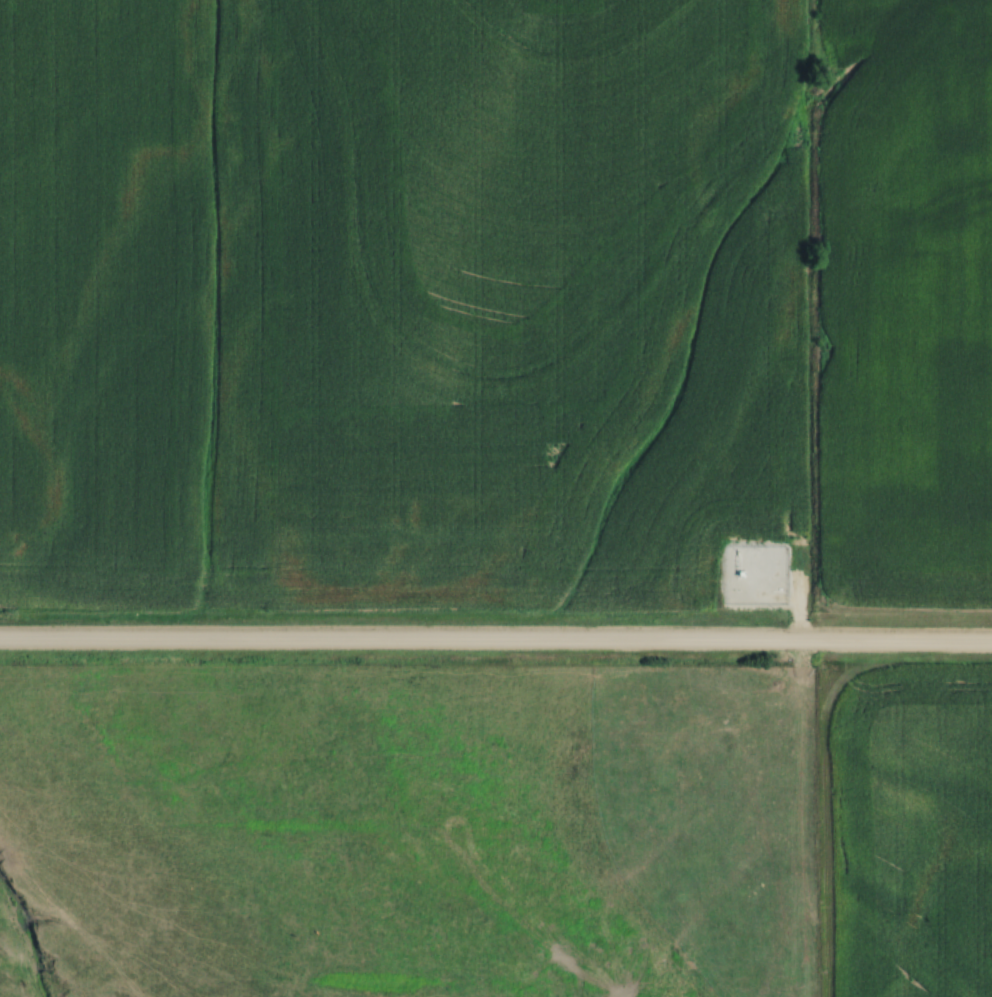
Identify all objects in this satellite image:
road: (799, 614)
road: (495, 645)

